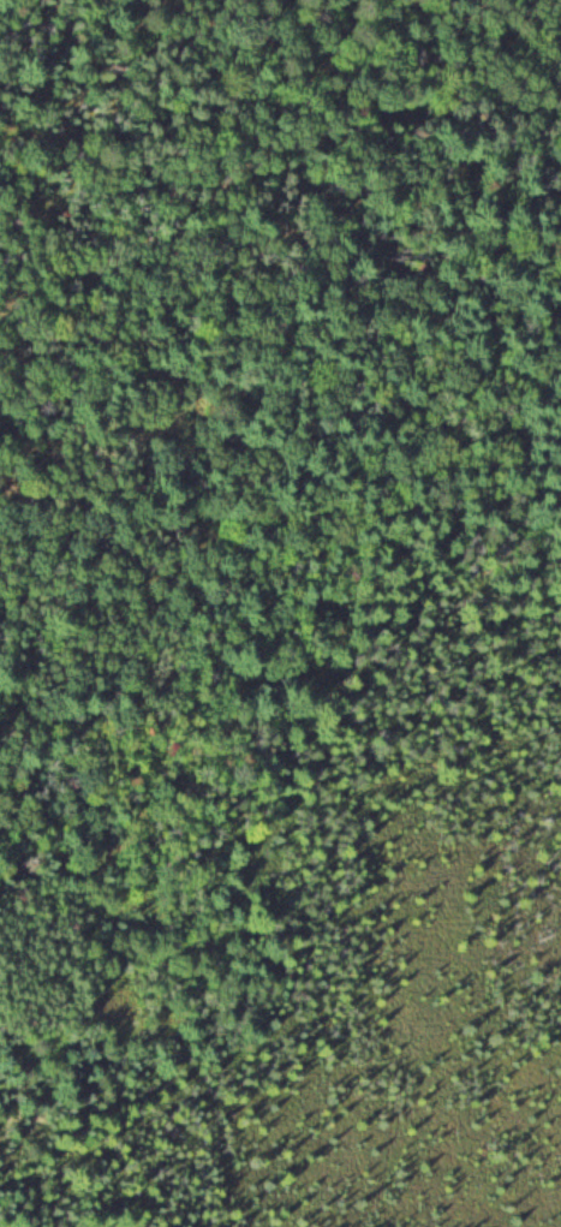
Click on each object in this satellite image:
road: (197, 168)

